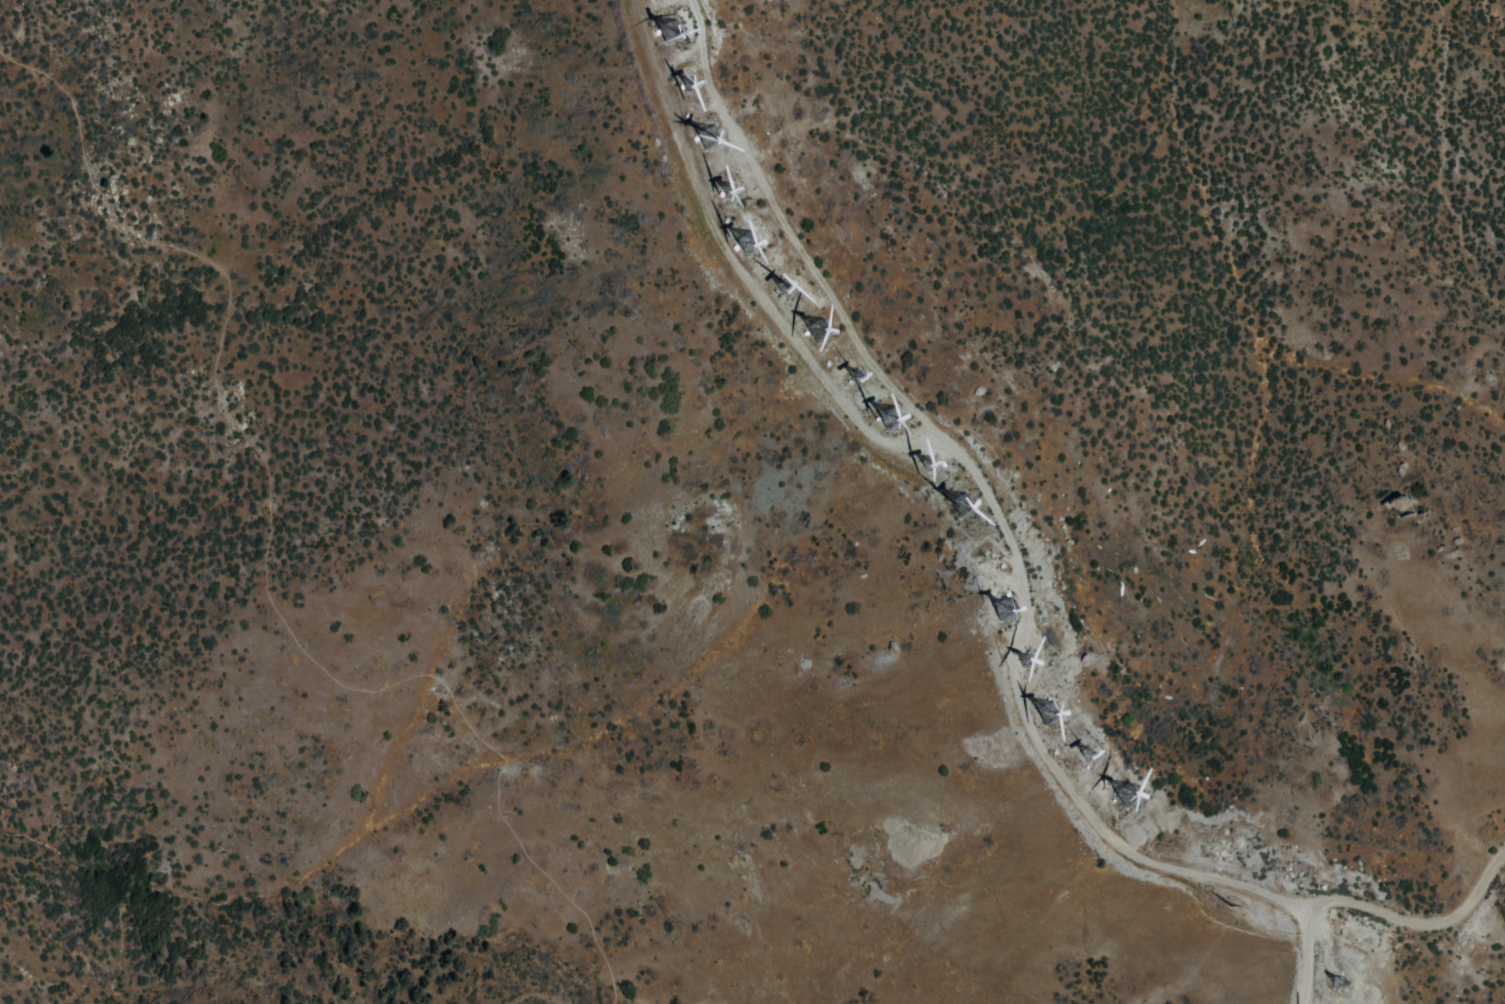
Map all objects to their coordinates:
wind turbine: (661, 35)
wind turbine: (679, 85)
building: (708, 137)
wind turbine: (707, 139)
wind turbine: (724, 191)
wind turbine: (742, 247)
wind turbine: (778, 291)
building: (818, 331)
wind turbine: (814, 334)
wind turbine: (853, 380)
building: (888, 418)
wind turbine: (886, 424)
wind turbine: (927, 474)
building: (959, 504)
wind turbine: (952, 510)
road: (995, 531)
road: (263, 560)
wind turbine: (981, 568)
wind turbine: (1001, 617)
wind turbine: (1029, 666)
wind turbine: (1049, 716)
wind turbine: (1086, 763)
wind turbine: (1125, 805)
road: (1402, 911)
wind turbine: (1342, 985)
road: (535, 994)

